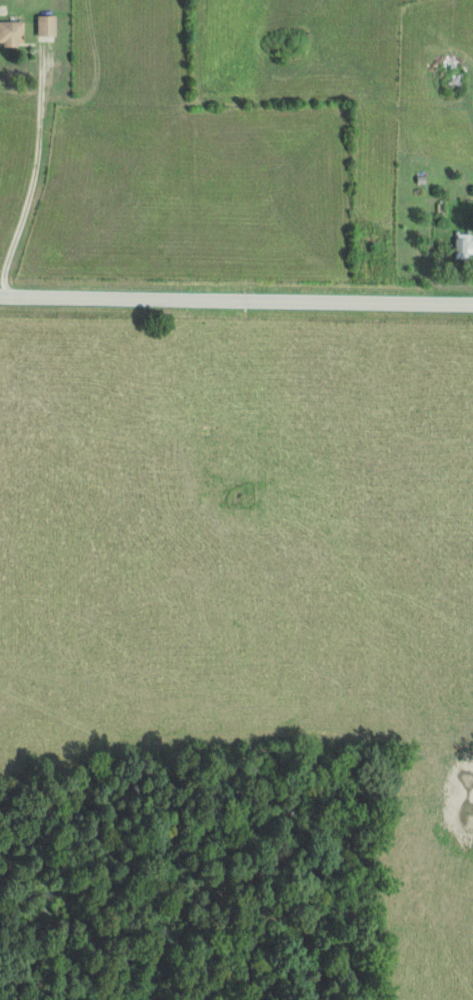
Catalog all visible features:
building: (48, 26)
building: (12, 34)
road: (31, 174)
building: (460, 247)
road: (236, 299)

